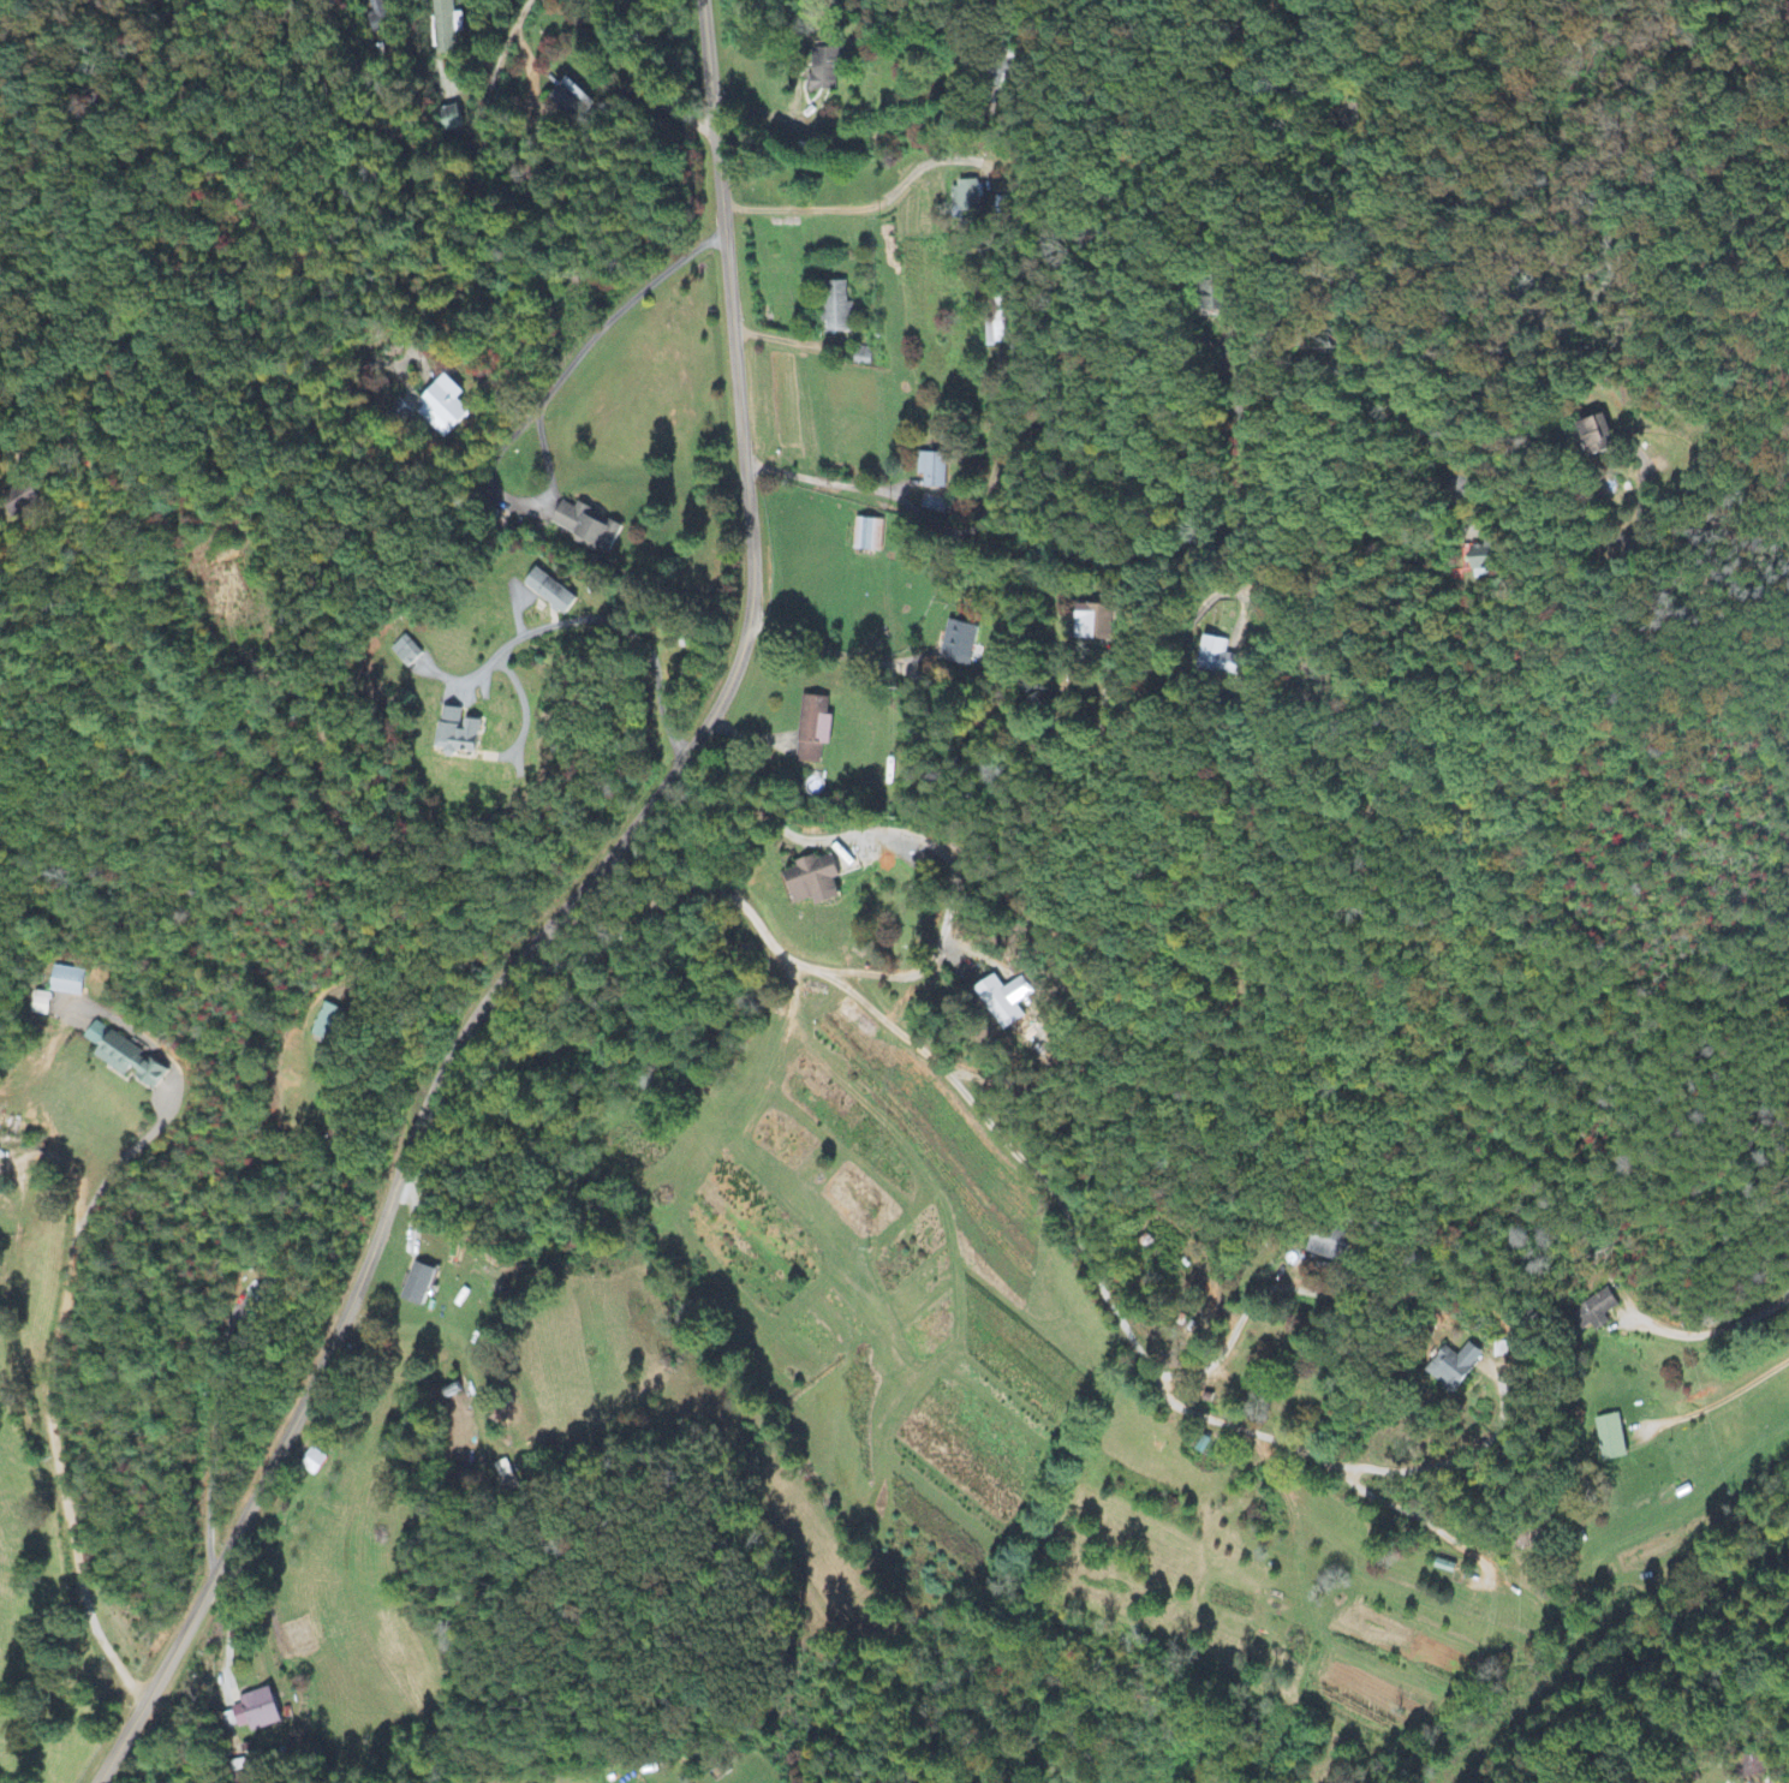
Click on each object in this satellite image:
building: (376, 16)
building: (445, 26)
building: (822, 71)
road: (638, 76)
building: (572, 102)
building: (449, 120)
road: (1173, 142)
road: (470, 167)
building: (965, 196)
building: (1213, 294)
building: (835, 309)
building: (860, 357)
building: (443, 409)
building: (1598, 437)
road: (24, 442)
building: (932, 471)
building: (20, 500)
building: (932, 506)
building: (586, 526)
building: (866, 536)
building: (1483, 559)
building: (549, 592)
building: (1096, 622)
building: (958, 645)
building: (405, 652)
building: (1217, 658)
building: (812, 731)
building: (457, 734)
road: (1008, 738)
building: (815, 882)
road: (555, 920)
building: (66, 983)
building: (1004, 1001)
building: (40, 1004)
building: (328, 1025)
building: (123, 1057)
road: (943, 1071)
building: (1328, 1246)
building: (418, 1287)
building: (1594, 1313)
building: (1455, 1367)
road: (1739, 1367)
building: (1612, 1439)
building: (314, 1463)
road: (60, 1471)
building: (257, 1711)

